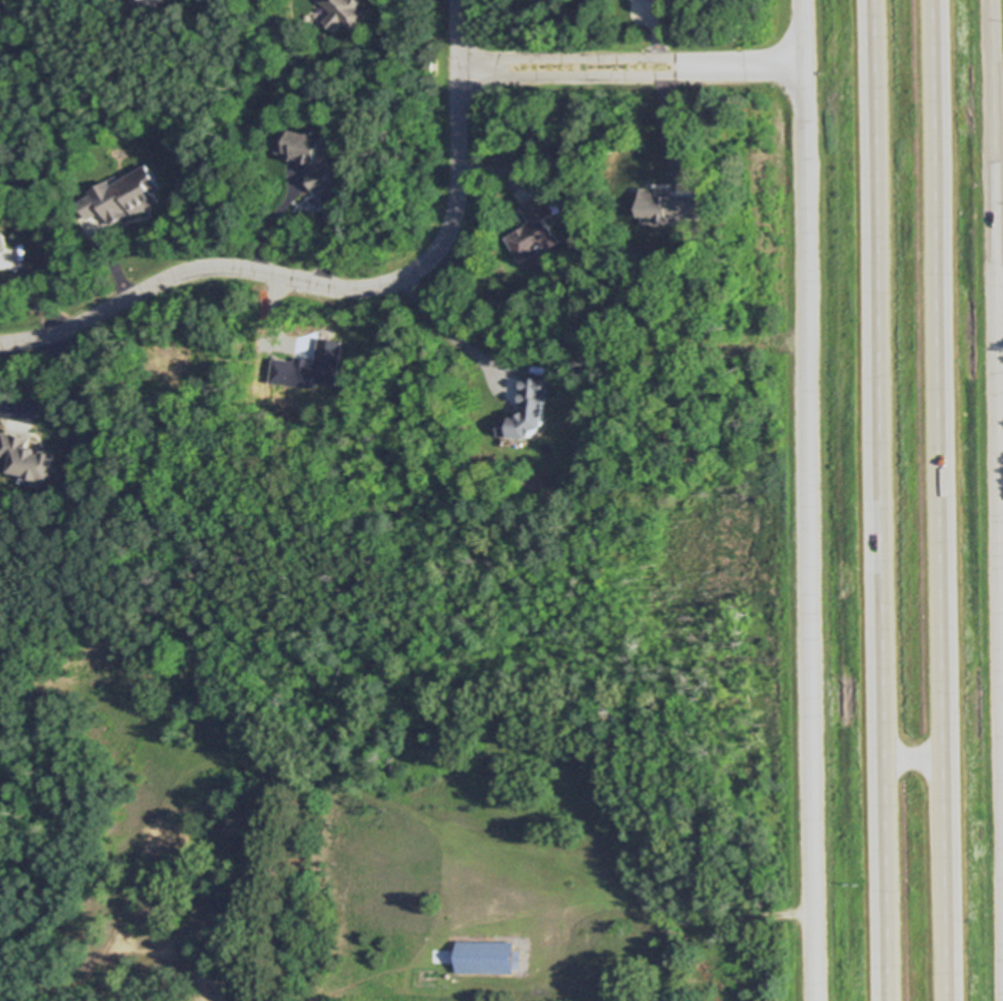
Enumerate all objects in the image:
building: (166, 0)
building: (140, 2)
building: (344, 12)
road: (597, 67)
road: (664, 129)
building: (311, 154)
building: (534, 154)
building: (122, 194)
building: (661, 207)
road: (275, 220)
building: (536, 229)
building: (3, 240)
road: (311, 284)
road: (450, 335)
building: (307, 369)
road: (996, 393)
building: (528, 409)
building: (27, 453)
building: (571, 478)
road: (807, 500)
road: (883, 500)
road: (940, 500)
road: (916, 758)
building: (634, 936)
building: (492, 958)
building: (651, 958)

